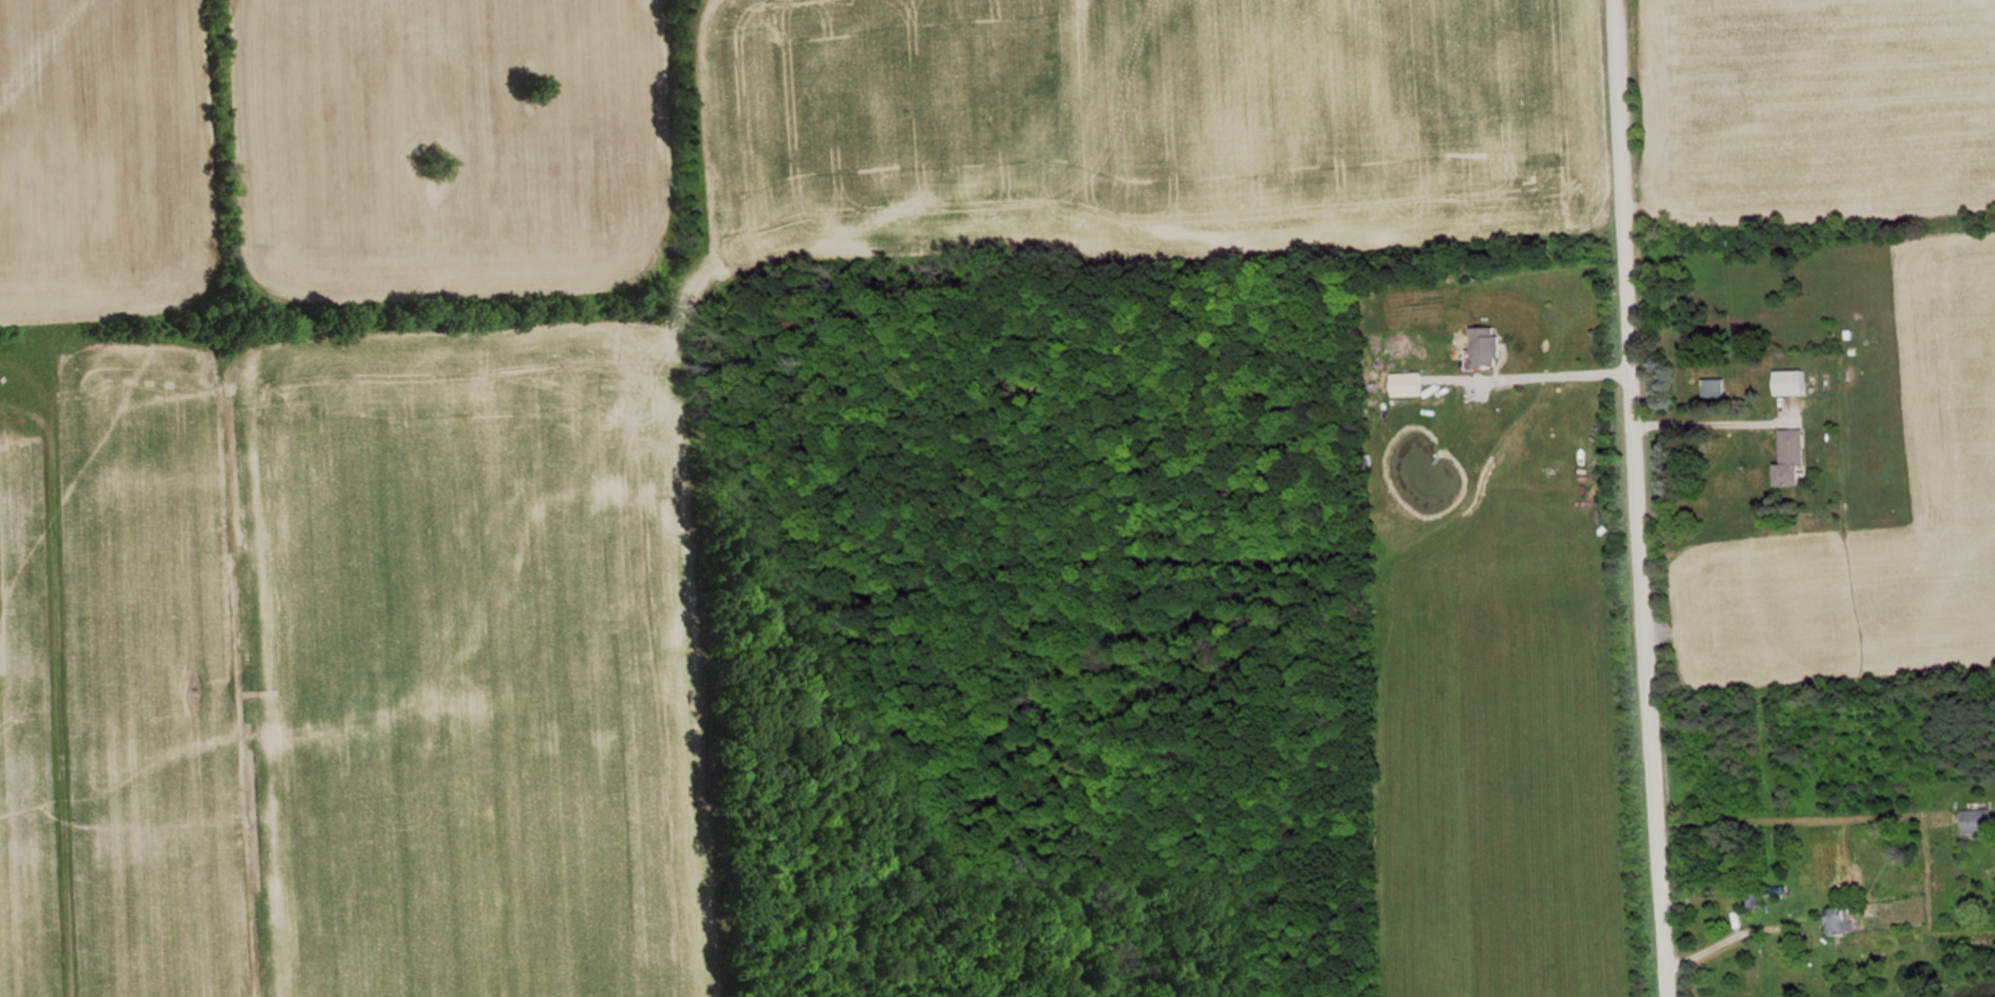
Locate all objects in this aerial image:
building: (1491, 346)
building: (1794, 382)
building: (1411, 384)
building: (1719, 387)
building: (1796, 457)
road: (1635, 498)
building: (1980, 821)
building: (1755, 897)
building: (1846, 921)

